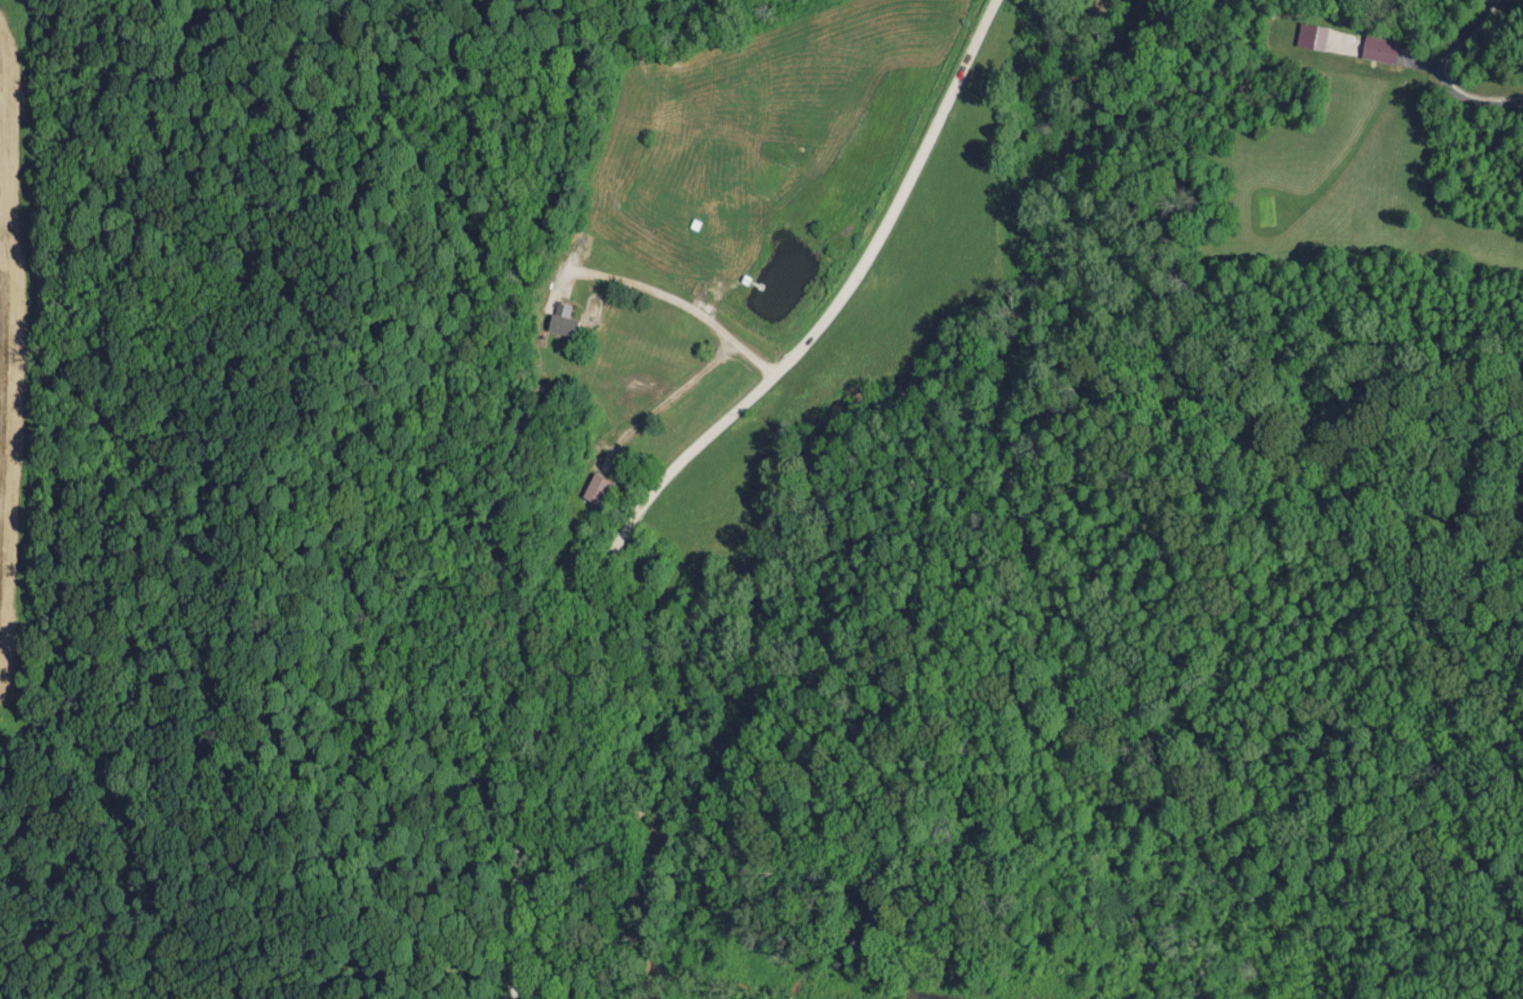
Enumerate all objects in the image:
building: (1312, 36)
building: (1380, 49)
road: (1446, 77)
building: (561, 321)
road: (675, 465)
building: (600, 489)

